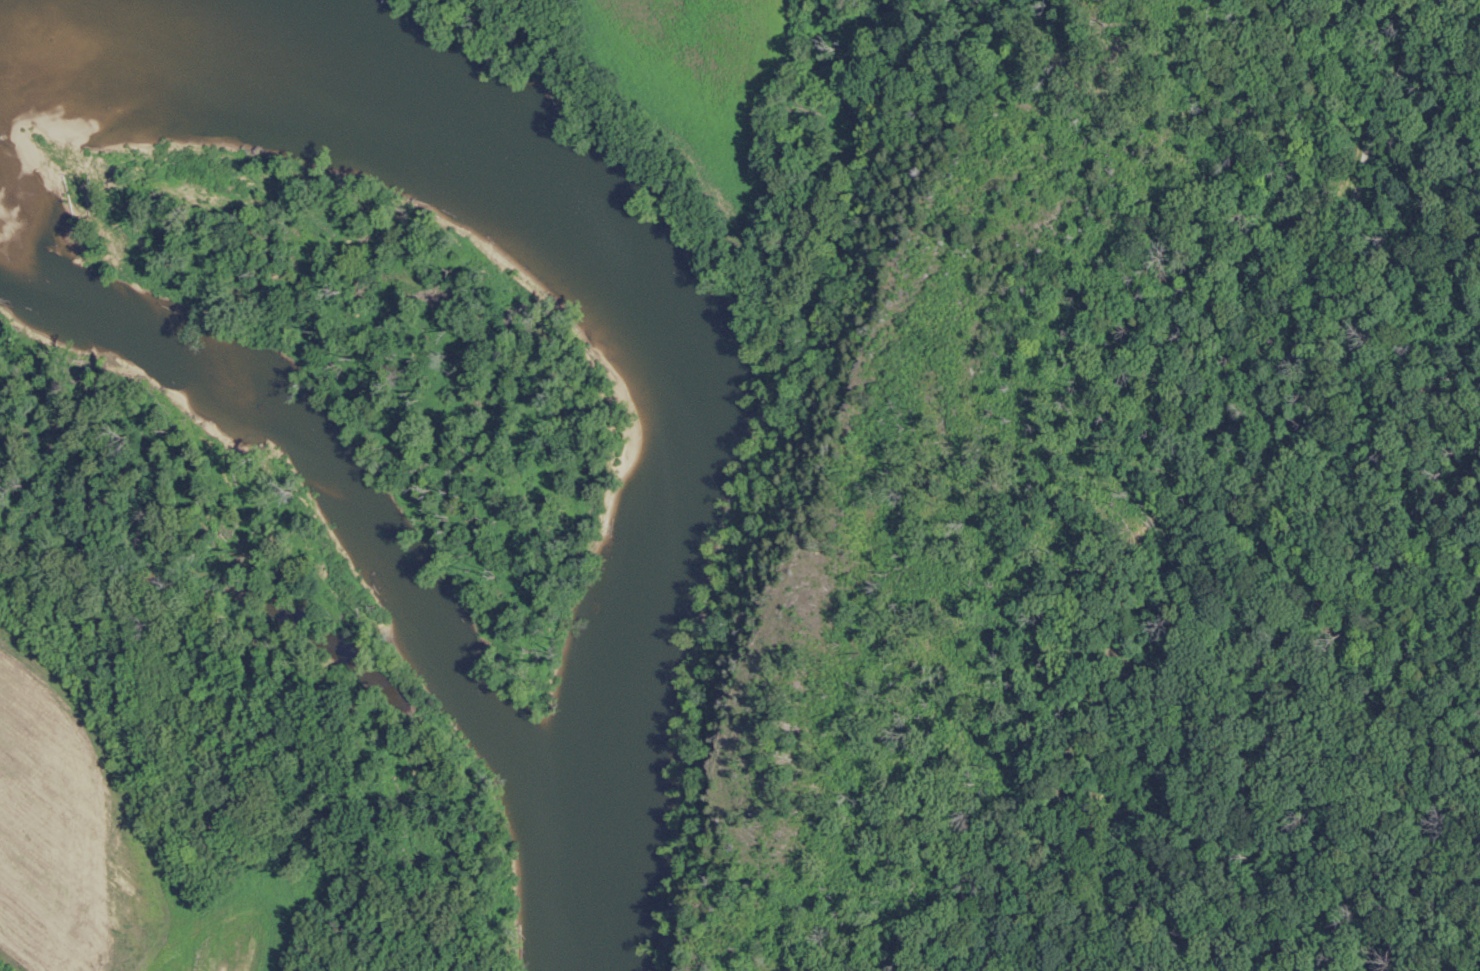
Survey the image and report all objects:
river: (654, 337)

